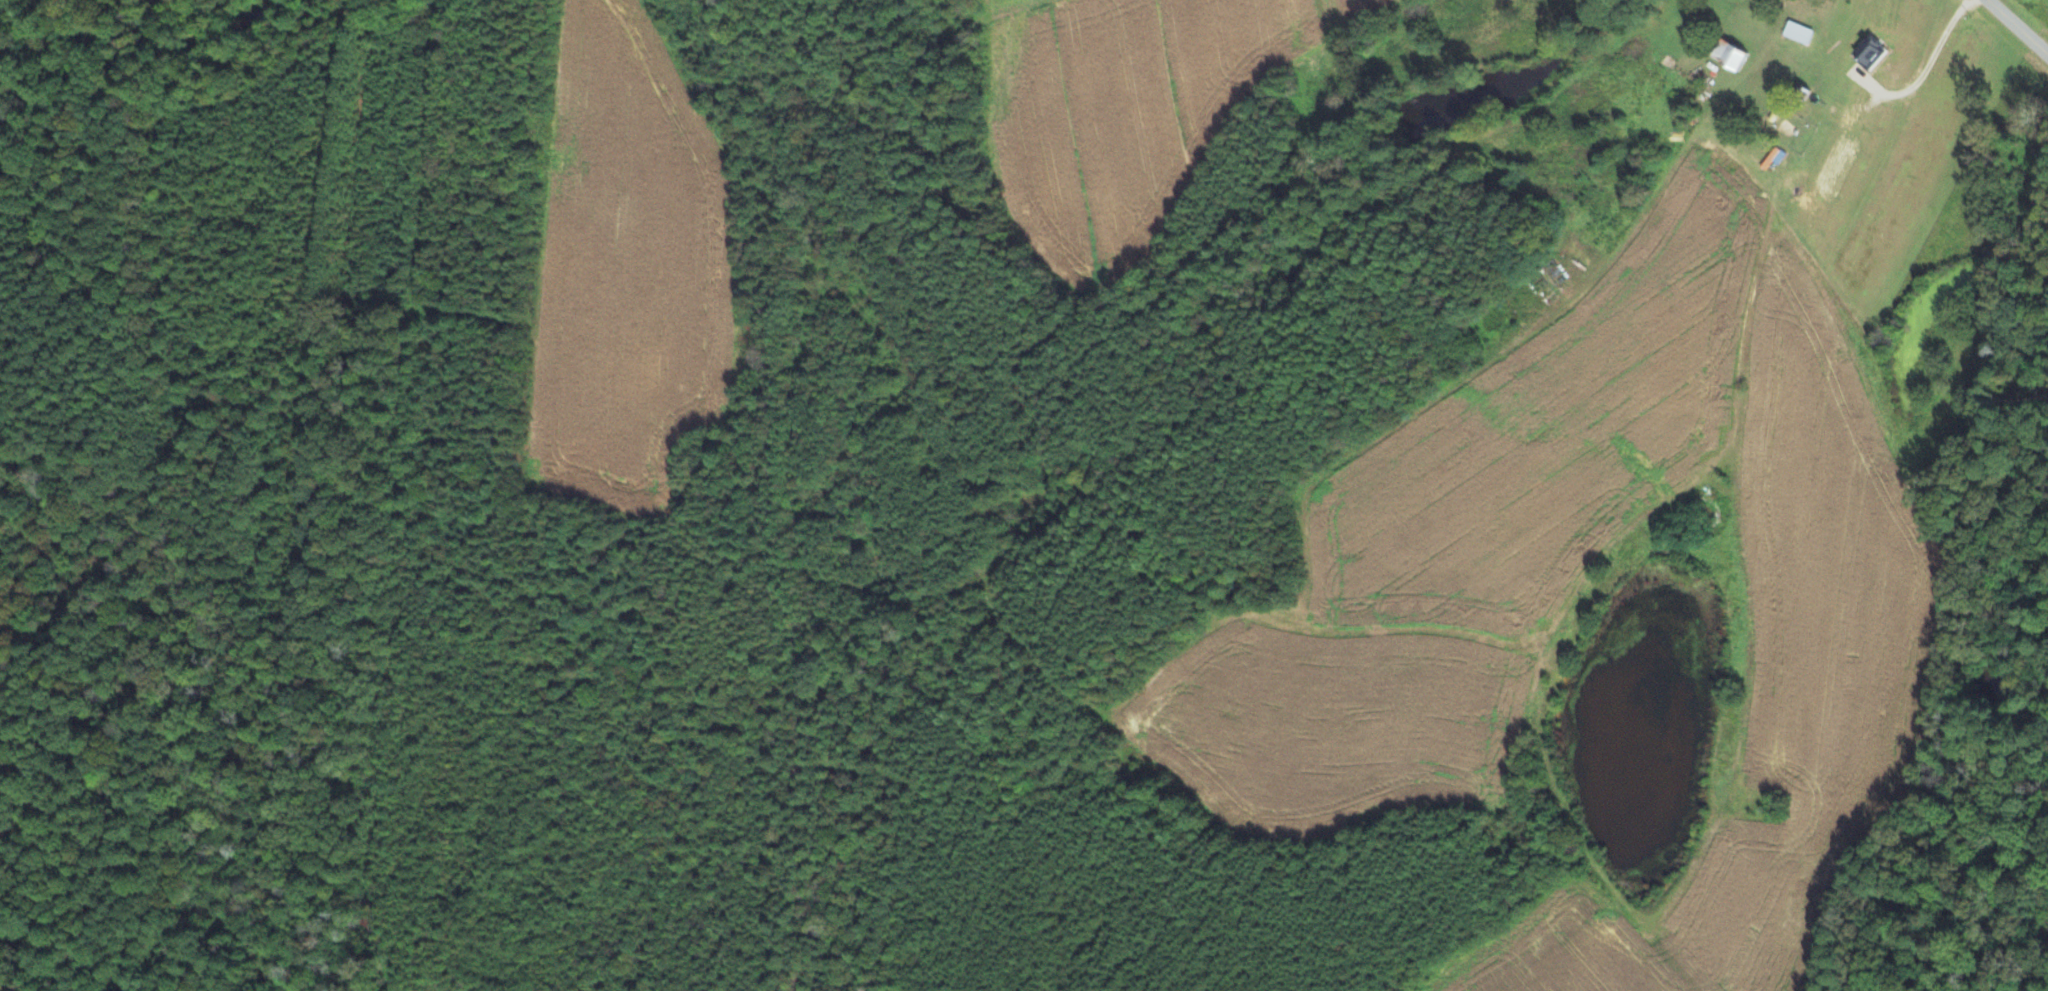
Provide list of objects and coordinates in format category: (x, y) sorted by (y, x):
road: (2017, 27)
building: (1797, 32)
building: (1868, 53)
building: (1728, 54)

